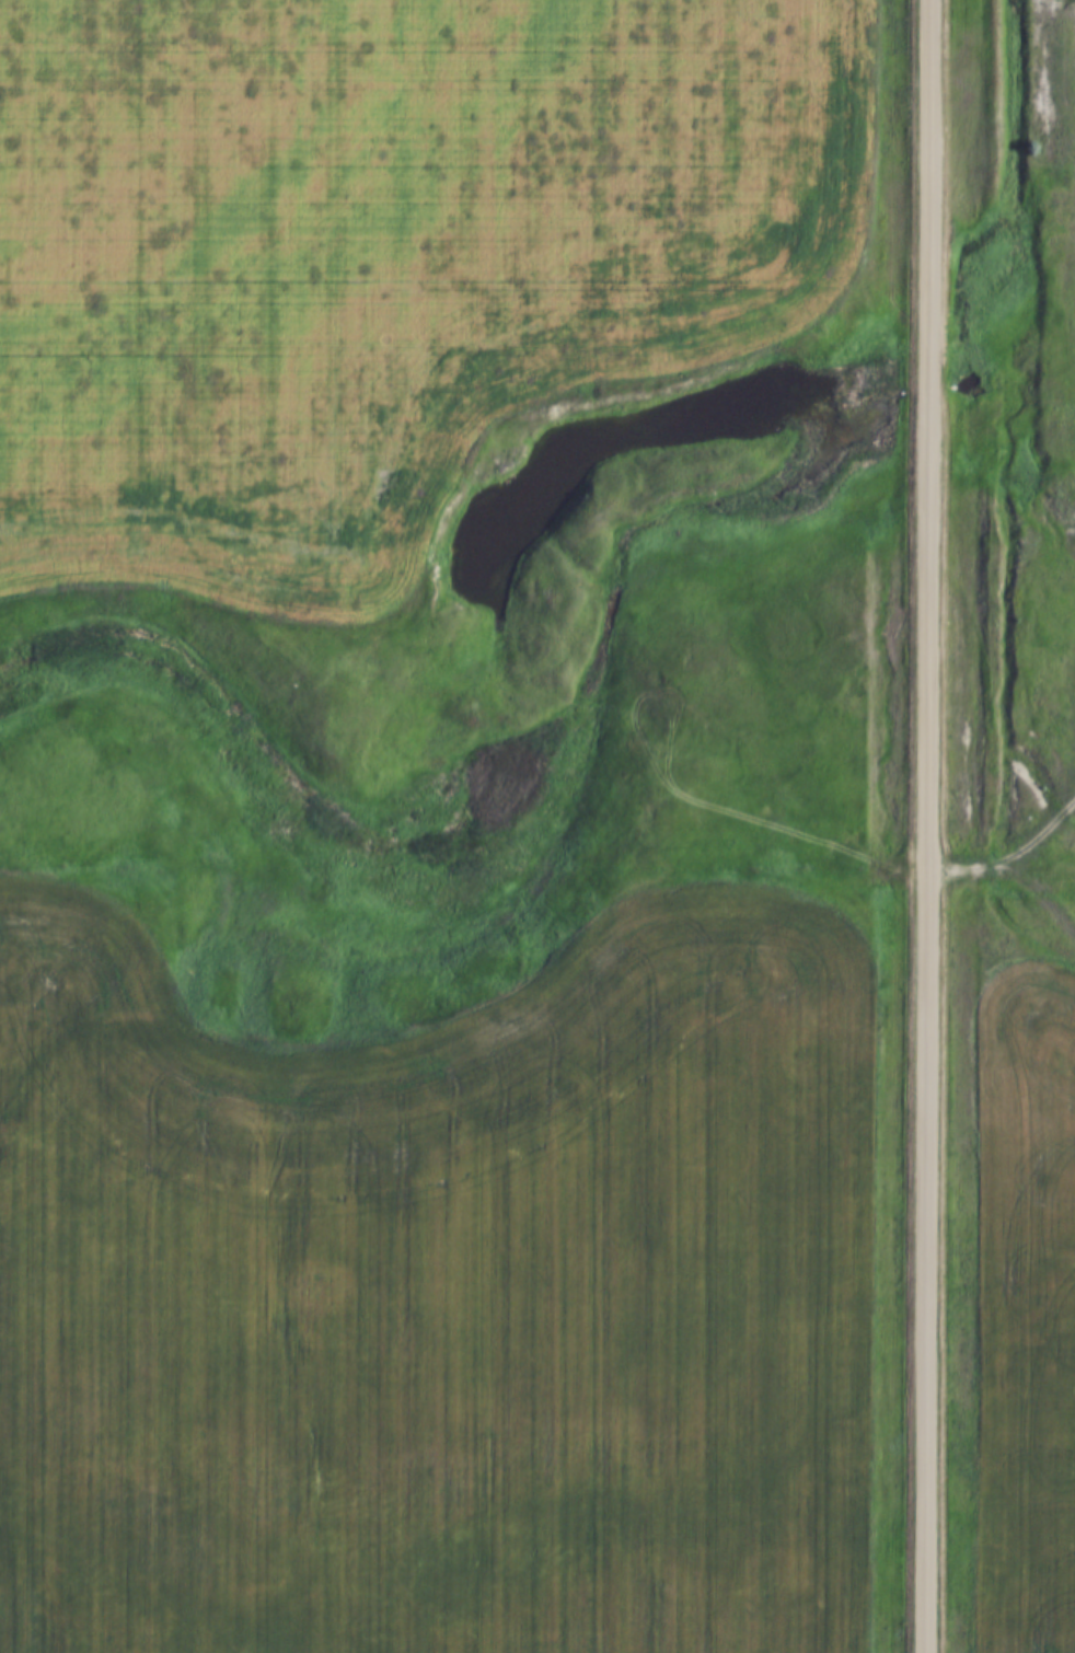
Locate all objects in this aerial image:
road: (1073, 56)
quarry: (1040, 456)
road: (927, 825)

